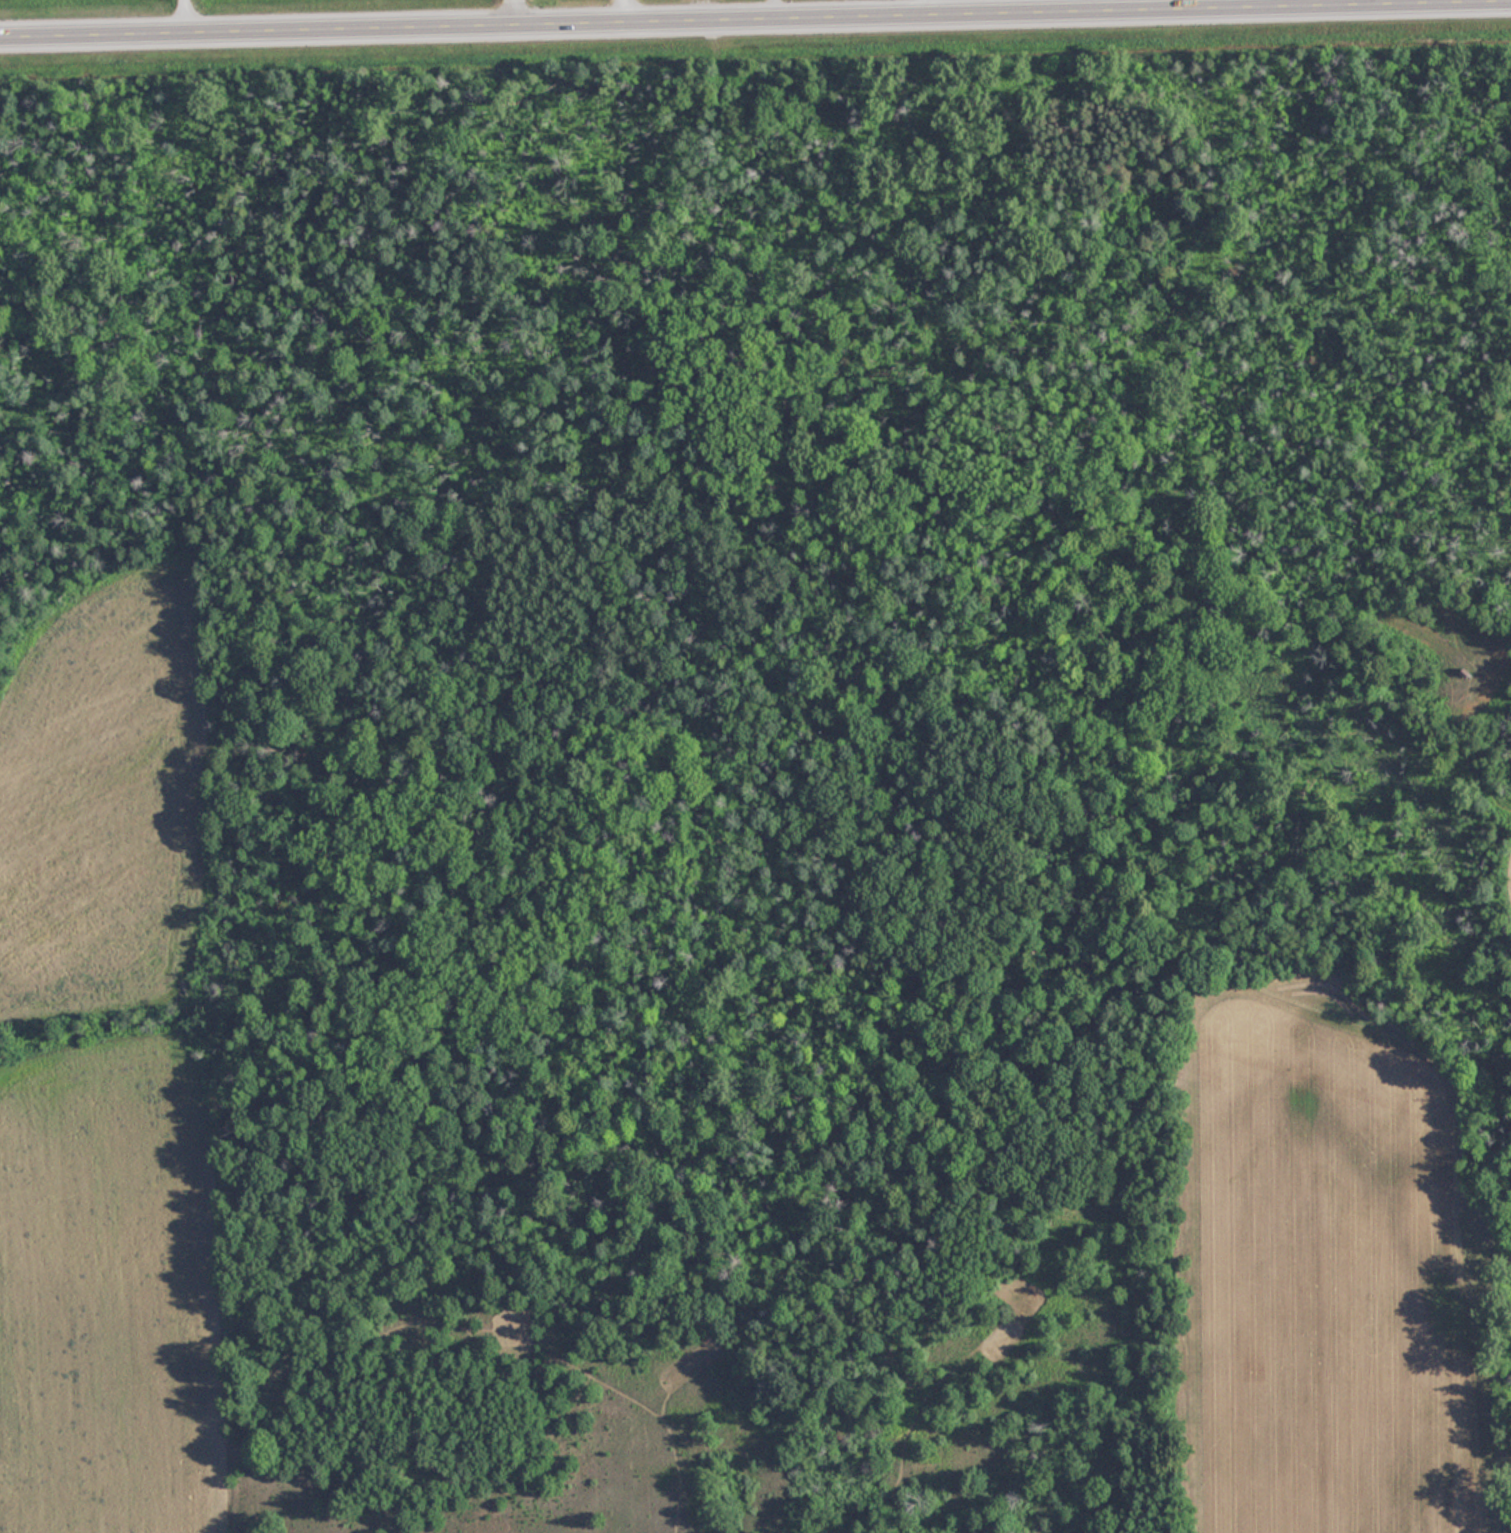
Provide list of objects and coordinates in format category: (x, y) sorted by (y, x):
road: (927, 6)
road: (767, 8)
road: (620, 9)
road: (512, 11)
road: (184, 14)
road: (711, 17)

